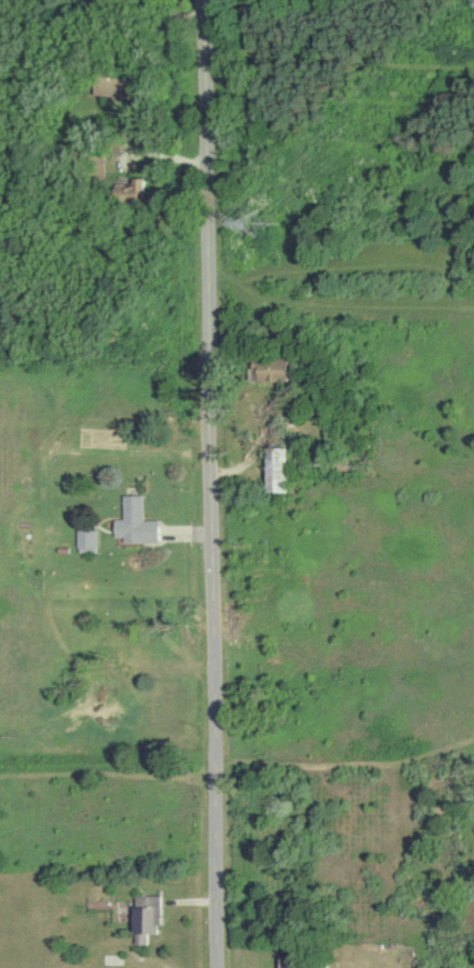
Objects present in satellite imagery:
road: (235, 52)
power tower: (256, 225)
road: (458, 251)
road: (354, 307)
building: (280, 372)
building: (282, 473)
road: (205, 484)
building: (138, 524)
road: (344, 762)
road: (105, 763)
building: (149, 918)

